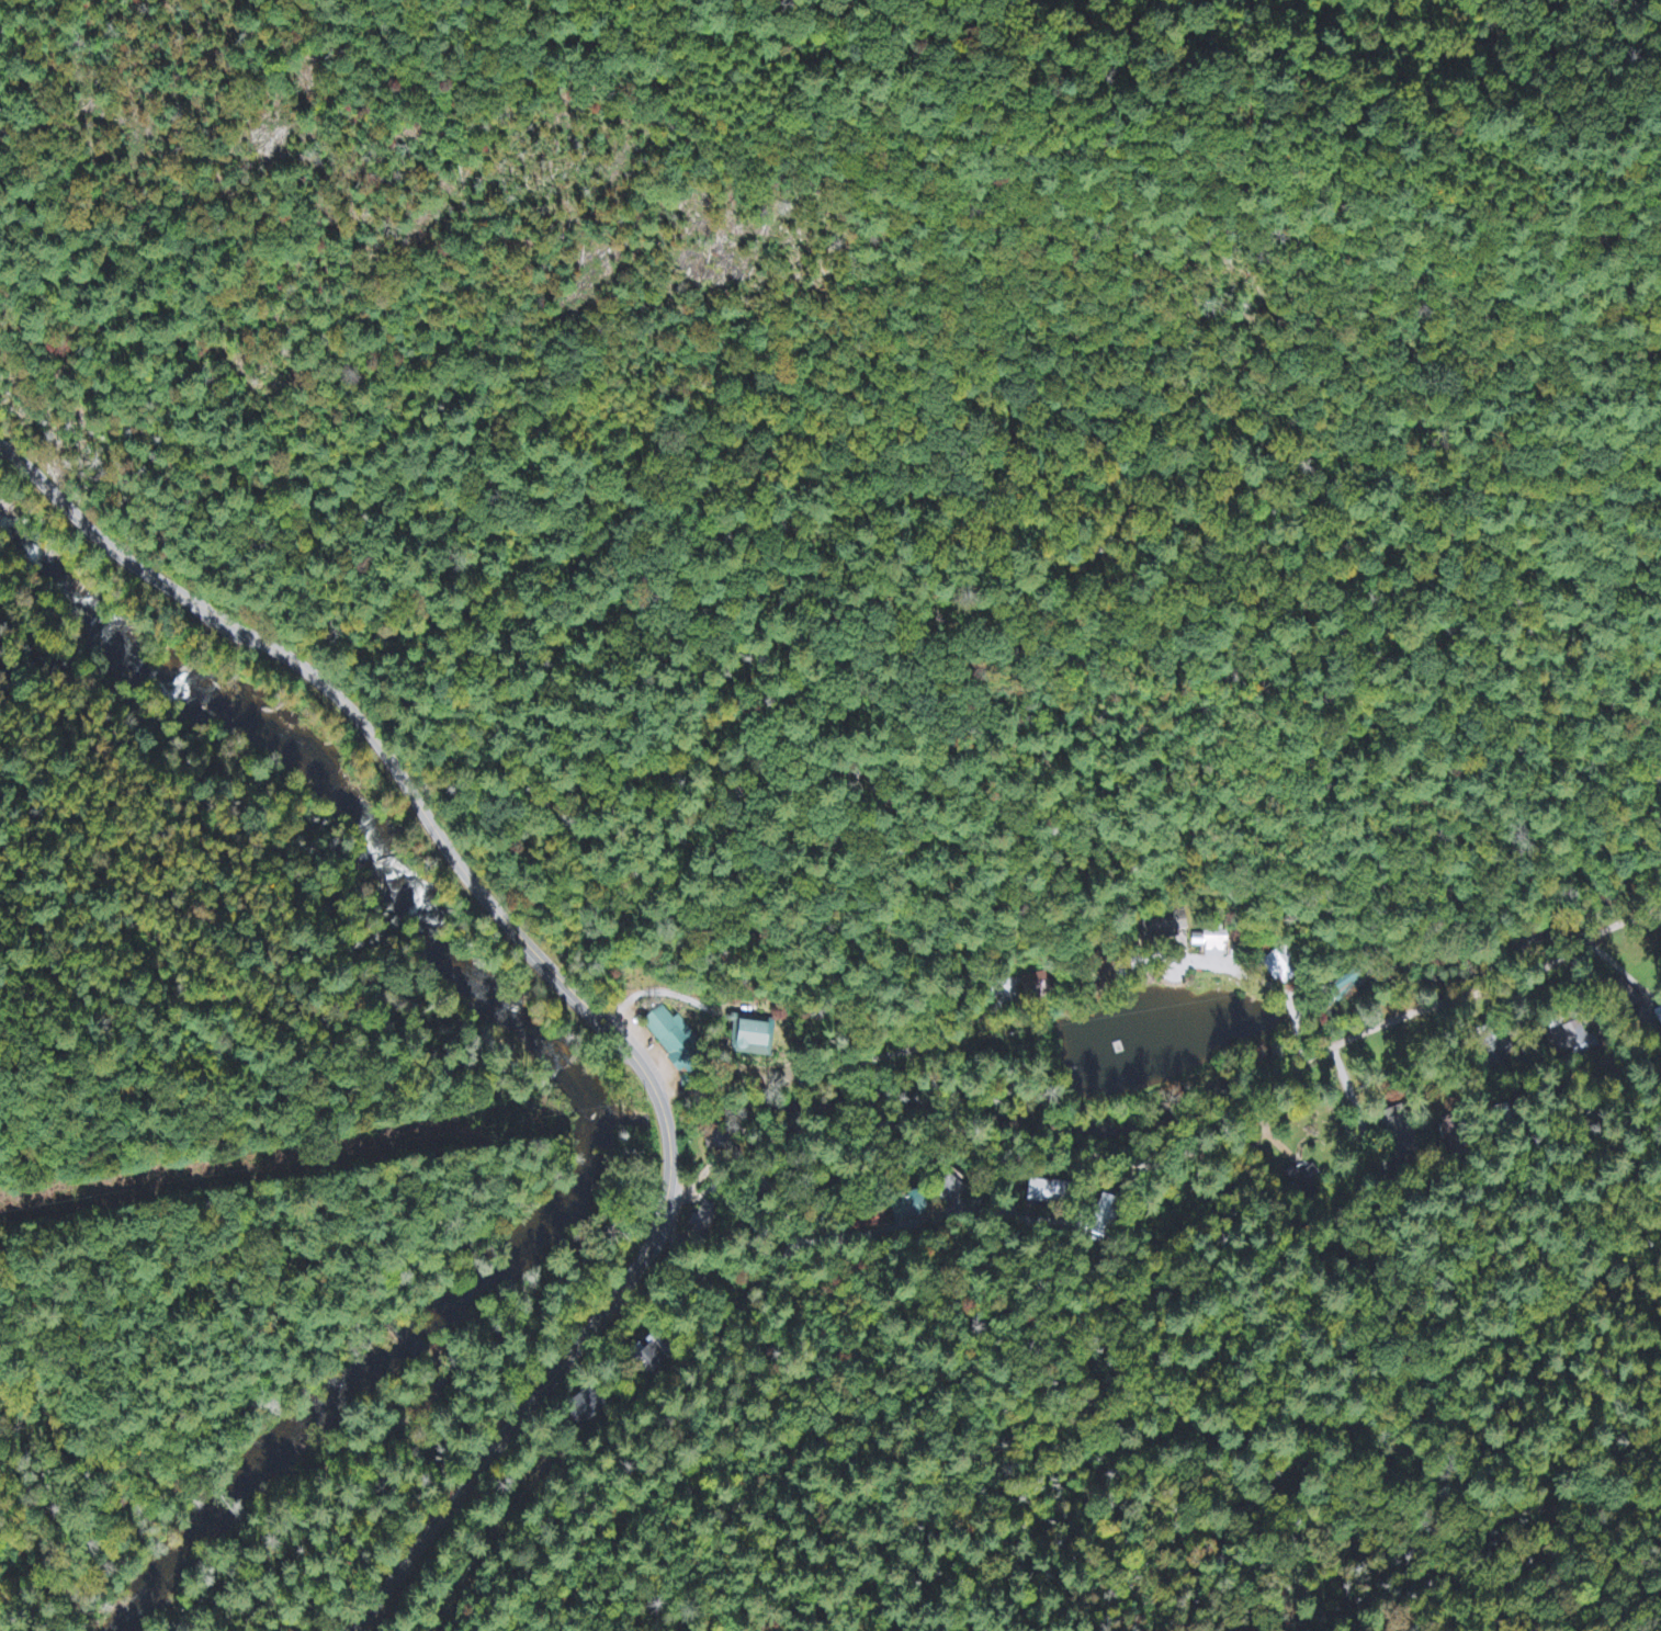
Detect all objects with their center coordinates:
river: (349, 788)
building: (1210, 944)
road: (564, 982)
building: (1344, 983)
road: (1476, 989)
building: (669, 1034)
building: (1571, 1041)
road: (987, 1139)
building: (1306, 1178)
building: (948, 1189)
building: (1046, 1192)
building: (908, 1207)
building: (1106, 1215)
building: (649, 1359)
river: (370, 1379)

